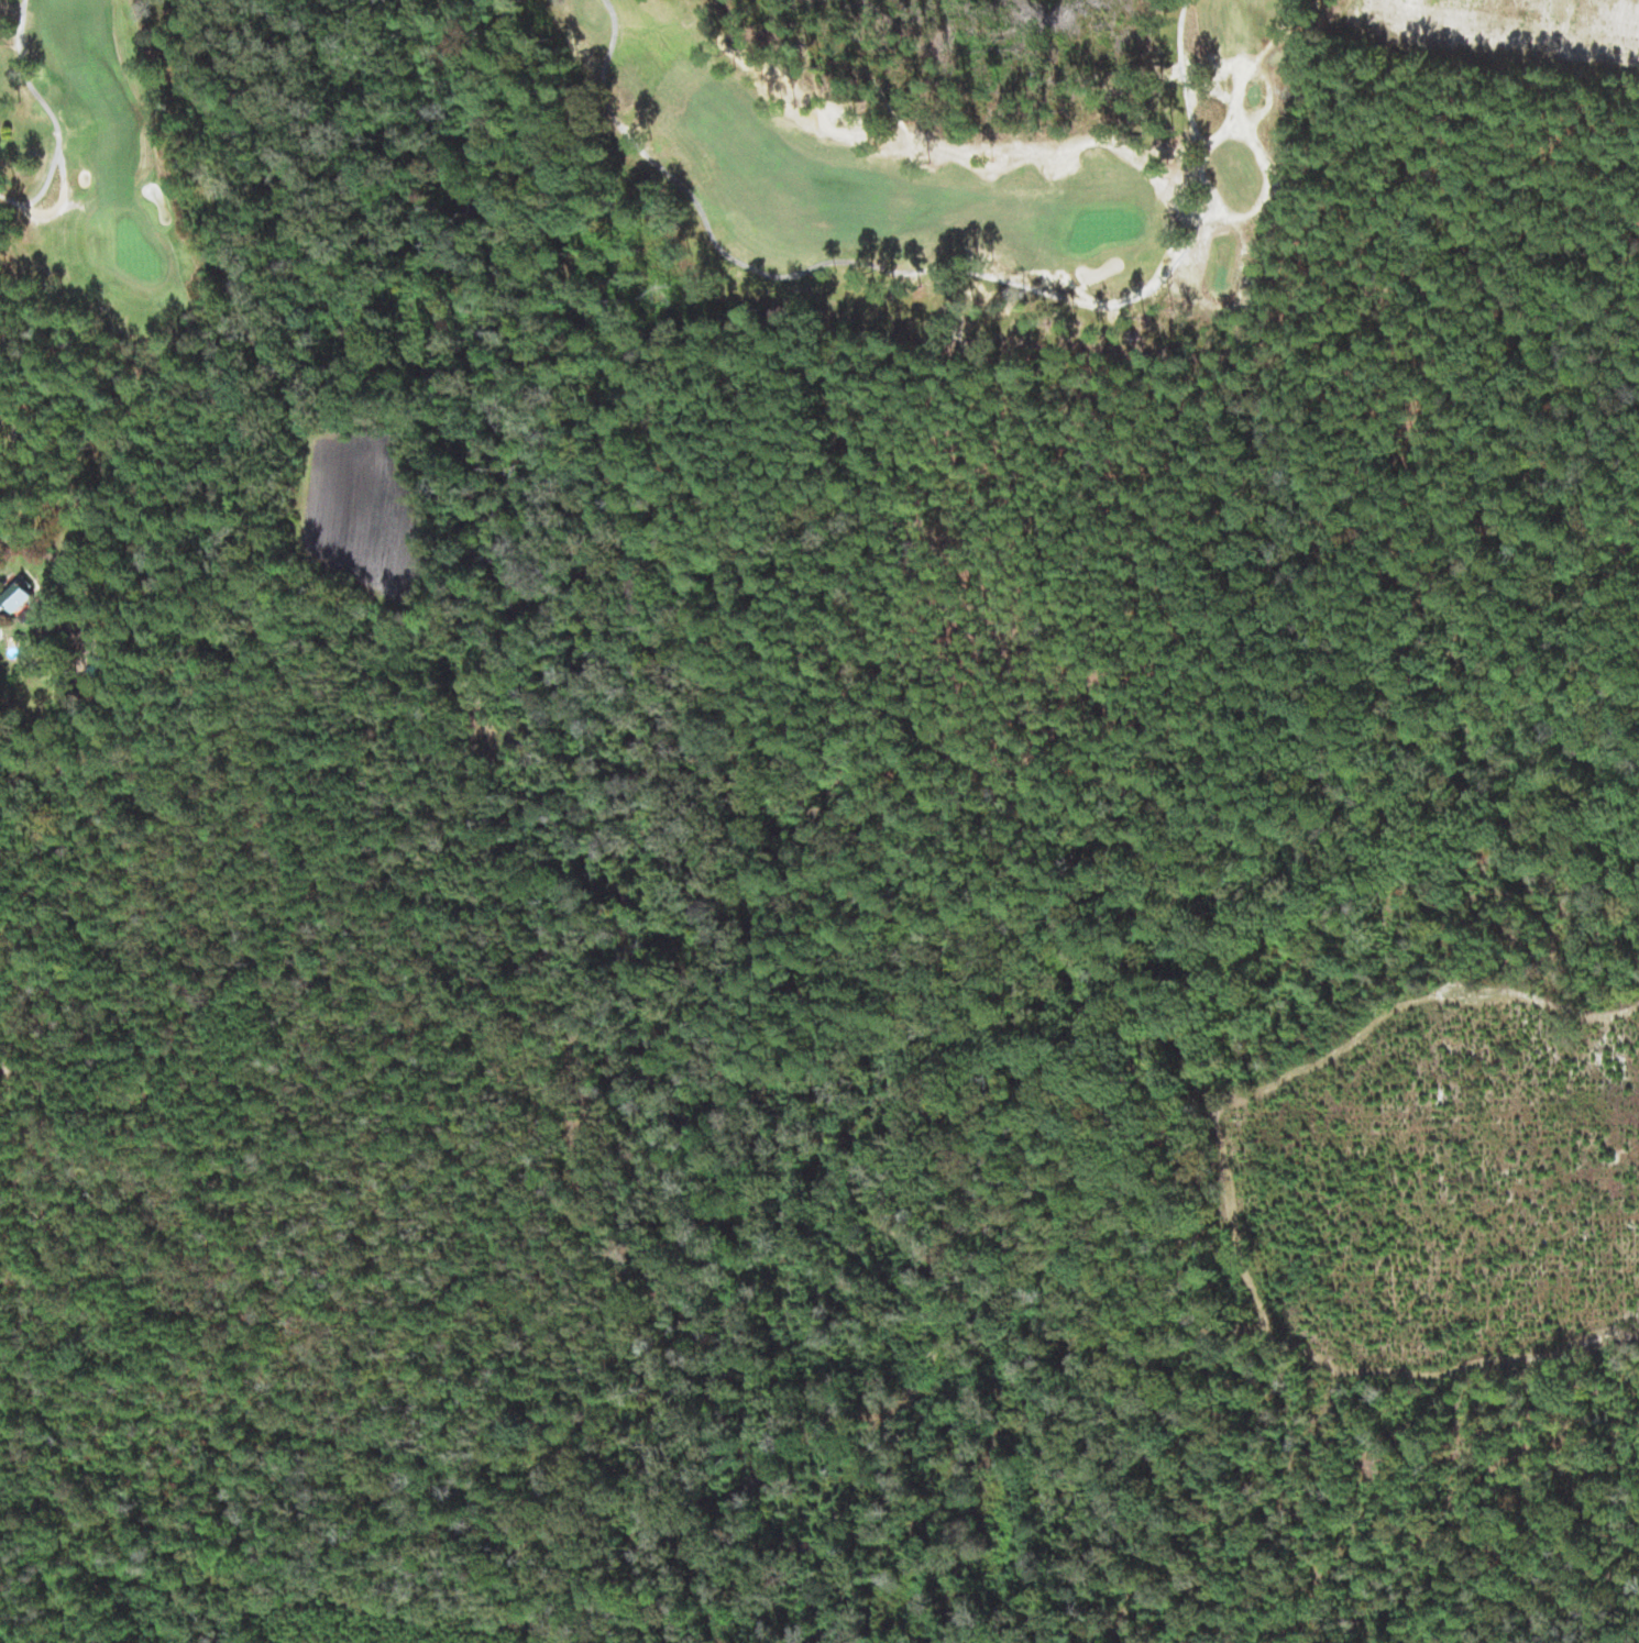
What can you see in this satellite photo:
park: (947, 145)
park: (90, 206)
building: (16, 595)

